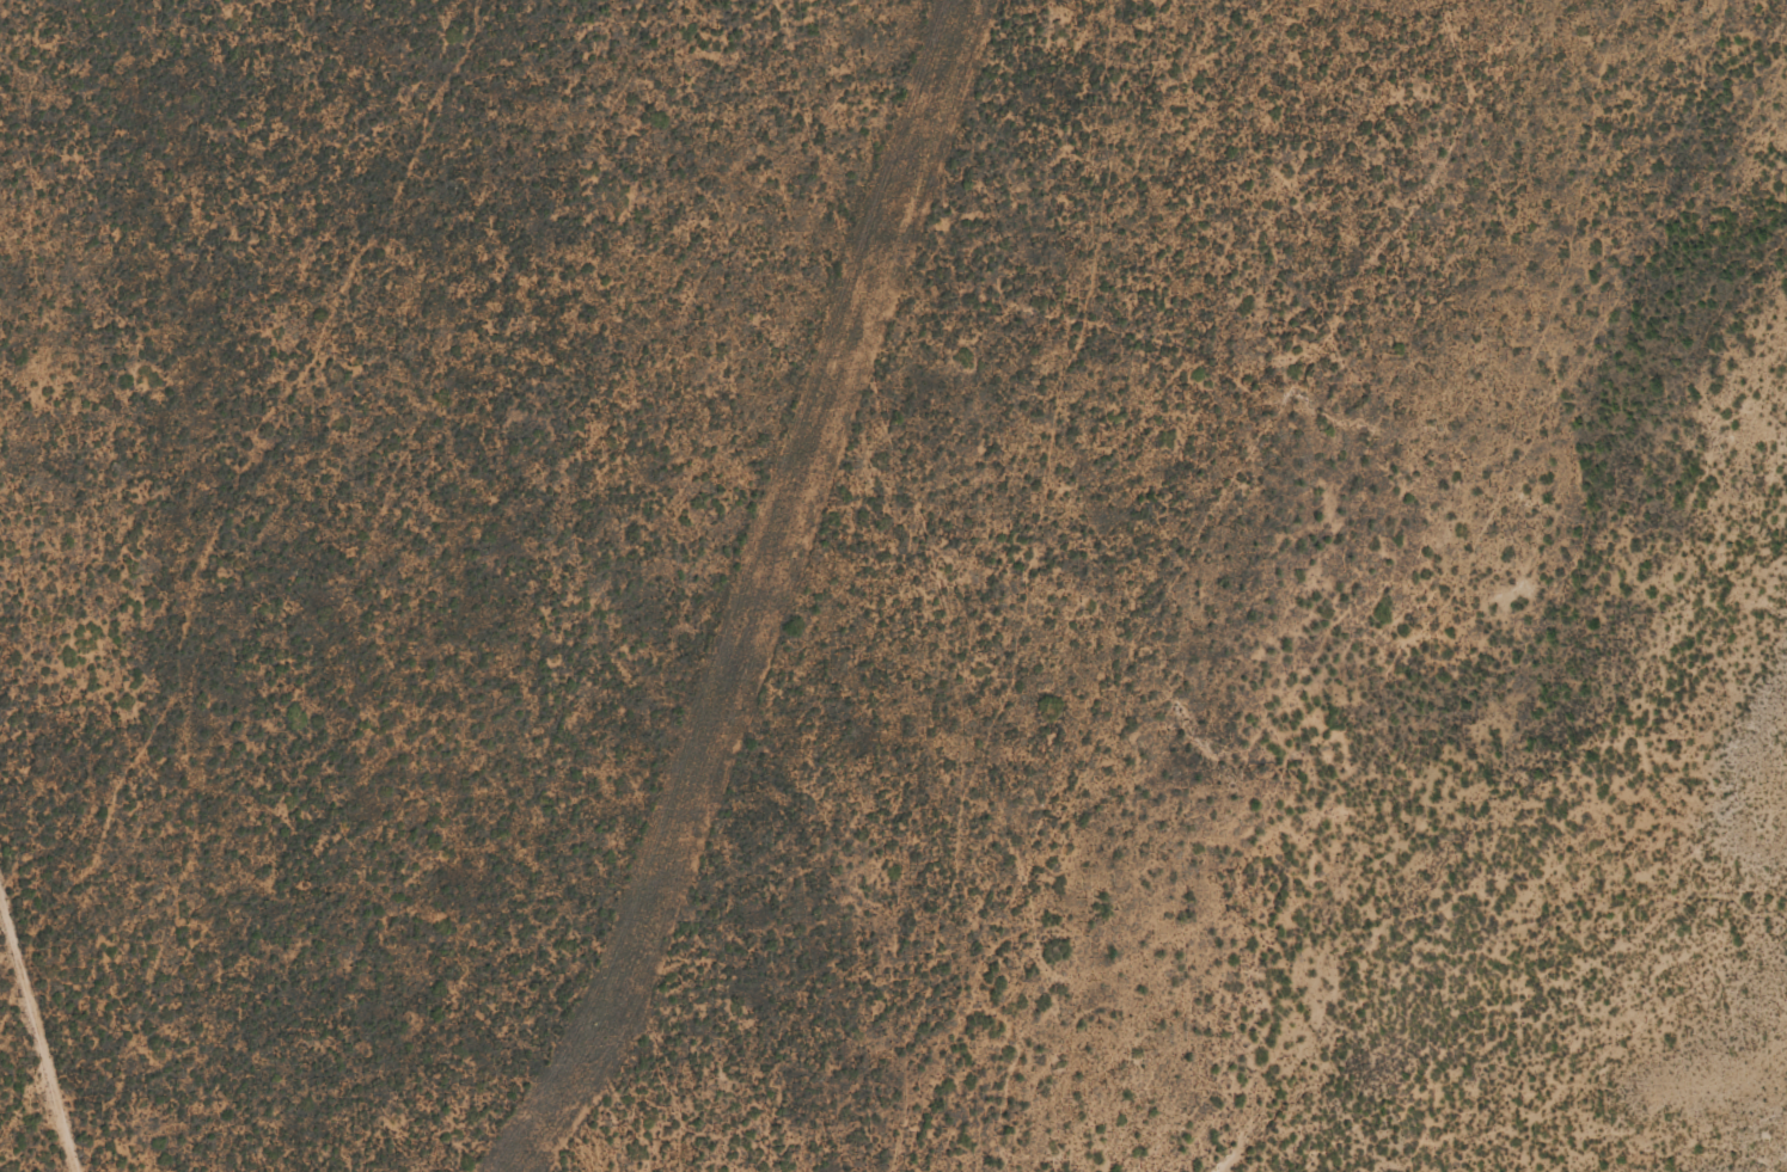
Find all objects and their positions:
road: (55, 967)

